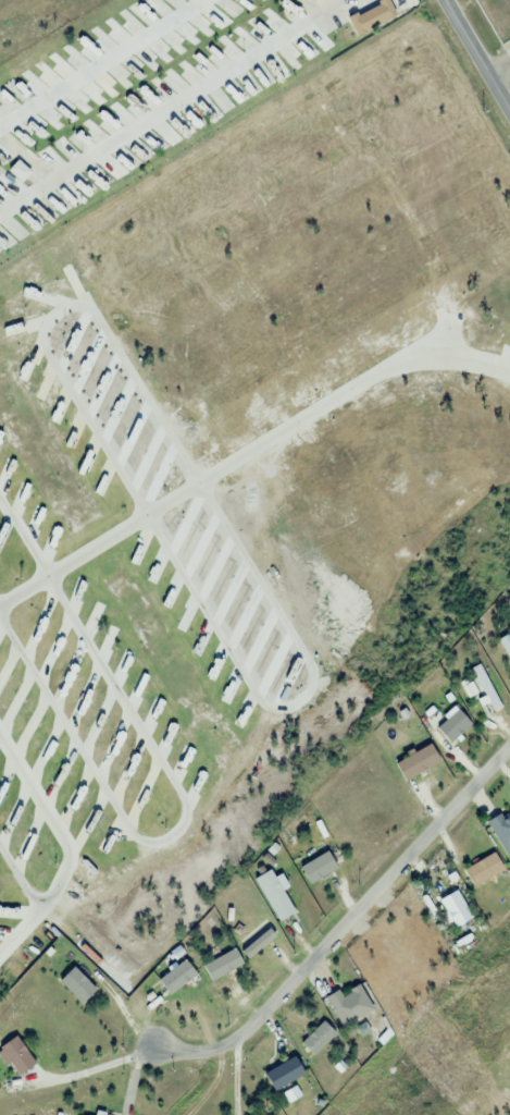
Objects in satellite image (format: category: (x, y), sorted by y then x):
building: (371, 12)
road: (475, 58)
road: (100, 61)
road: (498, 68)
road: (167, 105)
building: (501, 830)
building: (318, 868)
building: (483, 870)
building: (274, 895)
building: (456, 908)
road: (345, 926)
building: (258, 936)
building: (176, 977)
building: (76, 985)
building: (348, 1005)
building: (16, 1056)
building: (283, 1075)
building: (66, 1114)

